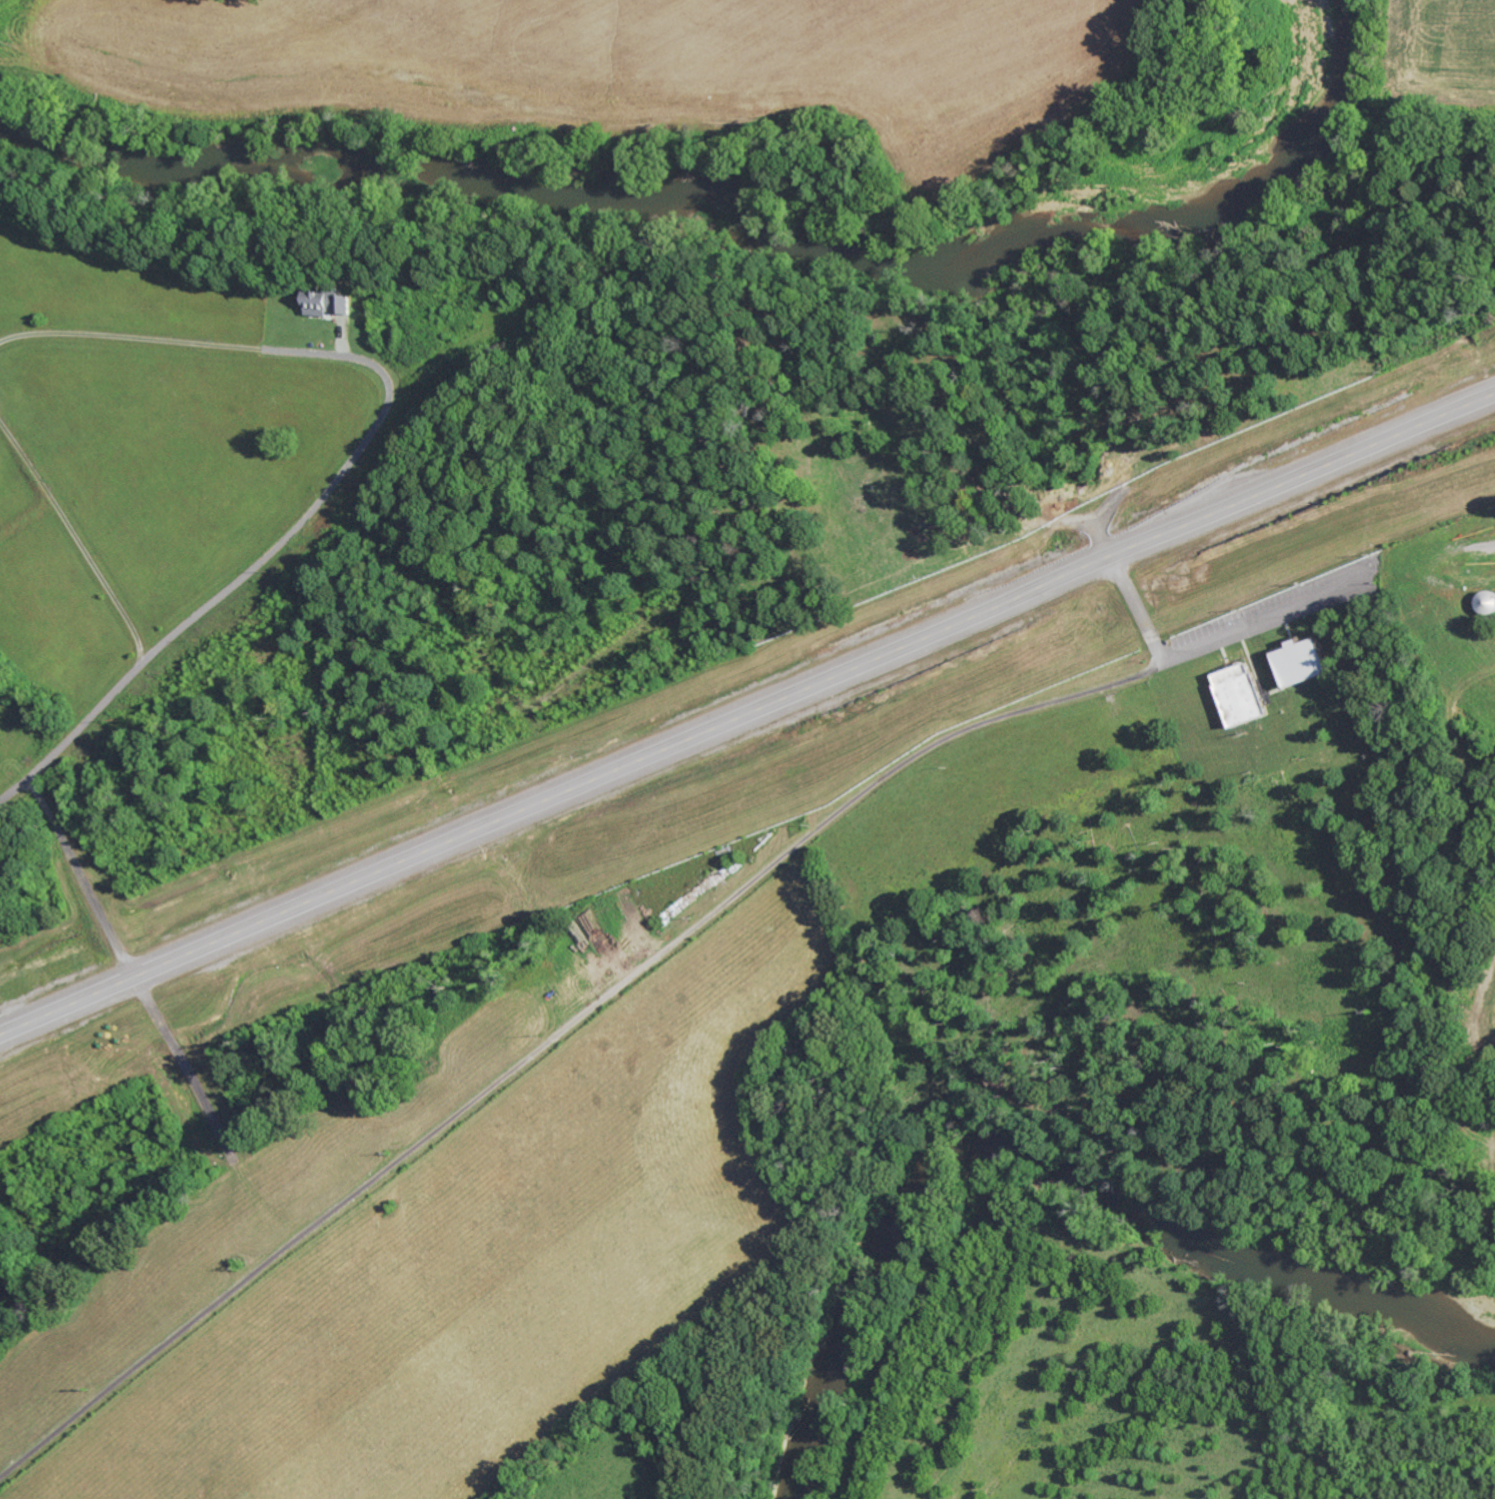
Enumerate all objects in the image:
building: (334, 302)
road: (325, 490)
road: (1336, 602)
road: (1135, 611)
building: (1305, 663)
building: (1245, 695)
road: (745, 710)
road: (77, 730)
road: (78, 878)
road: (557, 1032)

